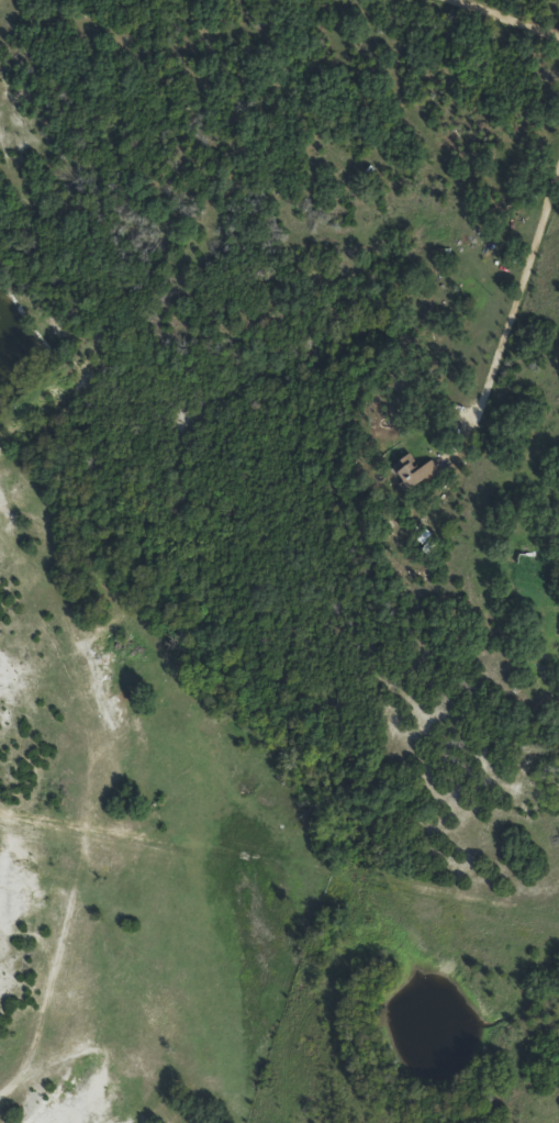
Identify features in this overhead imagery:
road: (502, 21)
road: (516, 286)
building: (421, 474)
building: (529, 570)
building: (556, 712)

